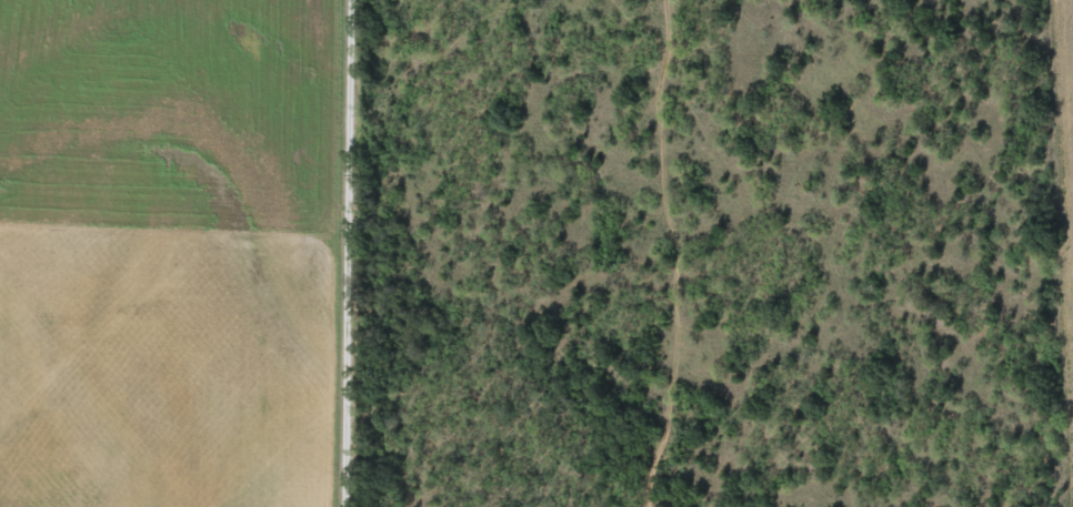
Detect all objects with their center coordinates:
road: (355, 253)

